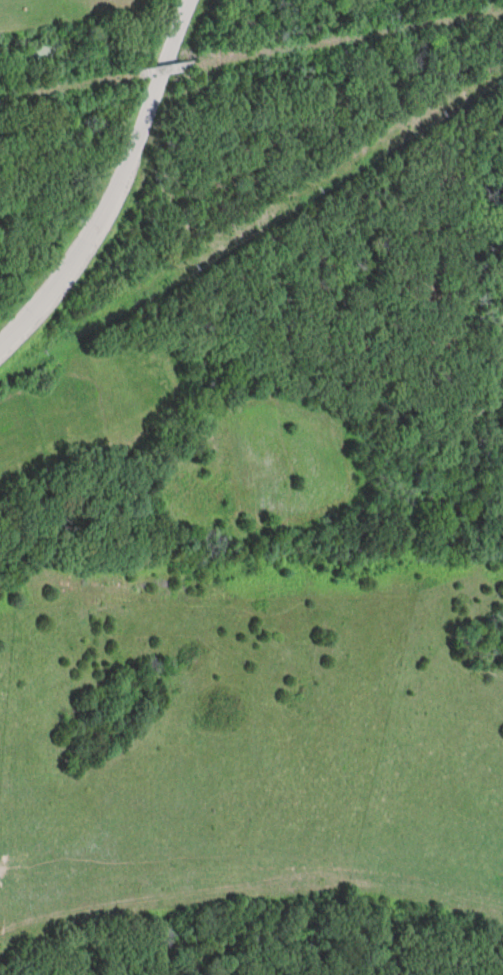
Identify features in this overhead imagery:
railway: (250, 54)
road: (118, 186)

